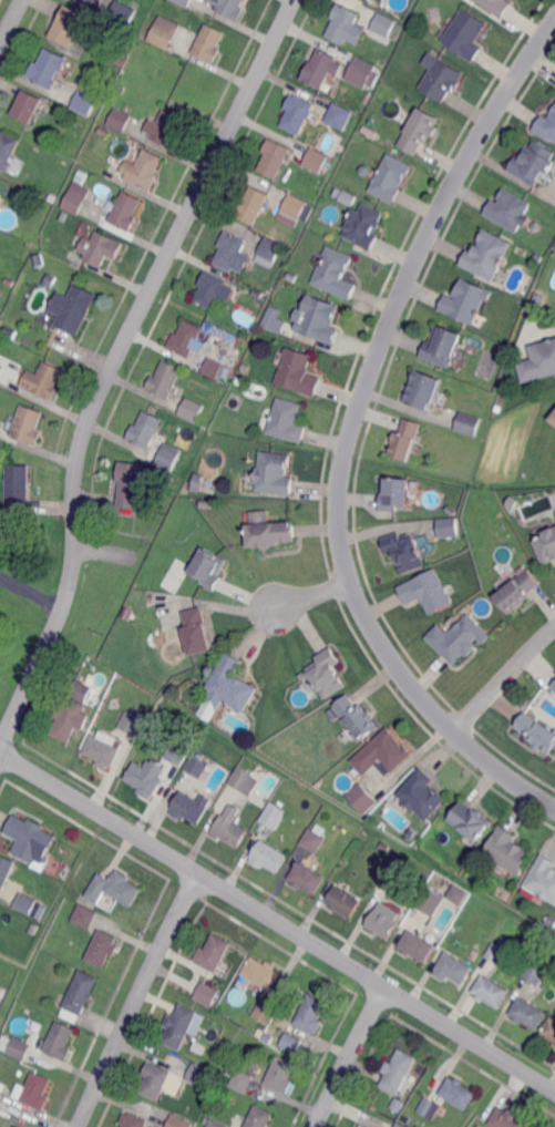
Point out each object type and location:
building: (368, 0)
building: (90, 1)
building: (183, 1)
building: (496, 4)
building: (229, 8)
building: (122, 14)
road: (10, 20)
building: (341, 22)
building: (381, 23)
building: (65, 25)
building: (463, 31)
building: (164, 32)
building: (208, 42)
building: (124, 62)
building: (48, 68)
building: (319, 68)
building: (360, 72)
building: (440, 76)
building: (120, 89)
building: (84, 102)
building: (28, 106)
building: (61, 107)
building: (297, 114)
building: (338, 116)
building: (119, 121)
building: (547, 125)
building: (165, 127)
building: (419, 131)
building: (103, 132)
building: (369, 132)
building: (341, 148)
building: (8, 150)
building: (274, 158)
building: (315, 158)
building: (533, 163)
building: (146, 170)
building: (366, 171)
building: (81, 176)
building: (389, 177)
building: (27, 196)
building: (74, 201)
building: (251, 206)
building: (295, 207)
building: (506, 208)
building: (126, 211)
building: (63, 215)
building: (364, 224)
building: (537, 227)
building: (287, 237)
building: (101, 248)
building: (270, 248)
building: (230, 249)
building: (487, 256)
building: (39, 259)
building: (332, 273)
building: (10, 280)
building: (210, 289)
building: (258, 295)
building: (536, 298)
building: (463, 299)
building: (74, 309)
building: (271, 317)
building: (317, 318)
building: (186, 338)
building: (442, 348)
building: (538, 360)
road: (113, 362)
building: (1, 367)
building: (214, 367)
building: (298, 371)
building: (43, 379)
building: (165, 379)
building: (422, 390)
building: (554, 408)
building: (192, 409)
building: (285, 420)
building: (553, 420)
building: (27, 423)
building: (466, 423)
building: (145, 429)
road: (350, 432)
building: (405, 440)
building: (168, 455)
building: (275, 474)
building: (168, 479)
building: (197, 483)
building: (129, 484)
building: (17, 489)
building: (395, 494)
building: (512, 502)
building: (206, 505)
building: (450, 511)
building: (448, 527)
building: (268, 531)
building: (546, 546)
building: (405, 551)
building: (207, 566)
building: (517, 590)
building: (426, 592)
road: (30, 594)
road: (306, 601)
building: (196, 629)
building: (458, 638)
building: (326, 674)
road: (505, 682)
building: (230, 685)
building: (553, 686)
building: (71, 713)
building: (136, 713)
building: (333, 714)
building: (353, 718)
building: (131, 725)
building: (537, 732)
building: (102, 750)
building: (178, 752)
building: (382, 754)
building: (197, 765)
building: (147, 776)
building: (244, 780)
building: (419, 796)
building: (361, 799)
building: (192, 806)
building: (274, 817)
building: (470, 821)
building: (230, 826)
building: (412, 832)
building: (31, 840)
building: (314, 842)
building: (386, 848)
building: (506, 852)
building: (269, 857)
building: (6, 869)
building: (398, 870)
building: (542, 879)
building: (306, 880)
building: (114, 888)
building: (458, 894)
building: (430, 901)
building: (343, 902)
building: (25, 903)
building: (84, 915)
building: (386, 919)
road: (277, 921)
building: (103, 947)
building: (417, 947)
building: (214, 953)
building: (496, 953)
building: (453, 969)
building: (260, 974)
building: (538, 975)
building: (490, 992)
building: (208, 993)
building: (80, 995)
road: (137, 1000)
building: (266, 1013)
building: (527, 1014)
building: (309, 1016)
building: (179, 1027)
building: (549, 1031)
building: (59, 1041)
building: (289, 1044)
building: (3, 1045)
building: (554, 1045)
building: (19, 1048)
road: (349, 1056)
building: (230, 1072)
building: (398, 1074)
building: (202, 1076)
building: (281, 1076)
building: (155, 1079)
building: (243, 1080)
building: (34, 1089)
building: (0, 1090)
building: (458, 1093)
building: (398, 1105)
building: (428, 1110)
building: (260, 1117)
building: (506, 1119)
building: (134, 1120)
building: (179, 1121)
building: (217, 1124)
building: (362, 1126)
building: (399, 1126)

